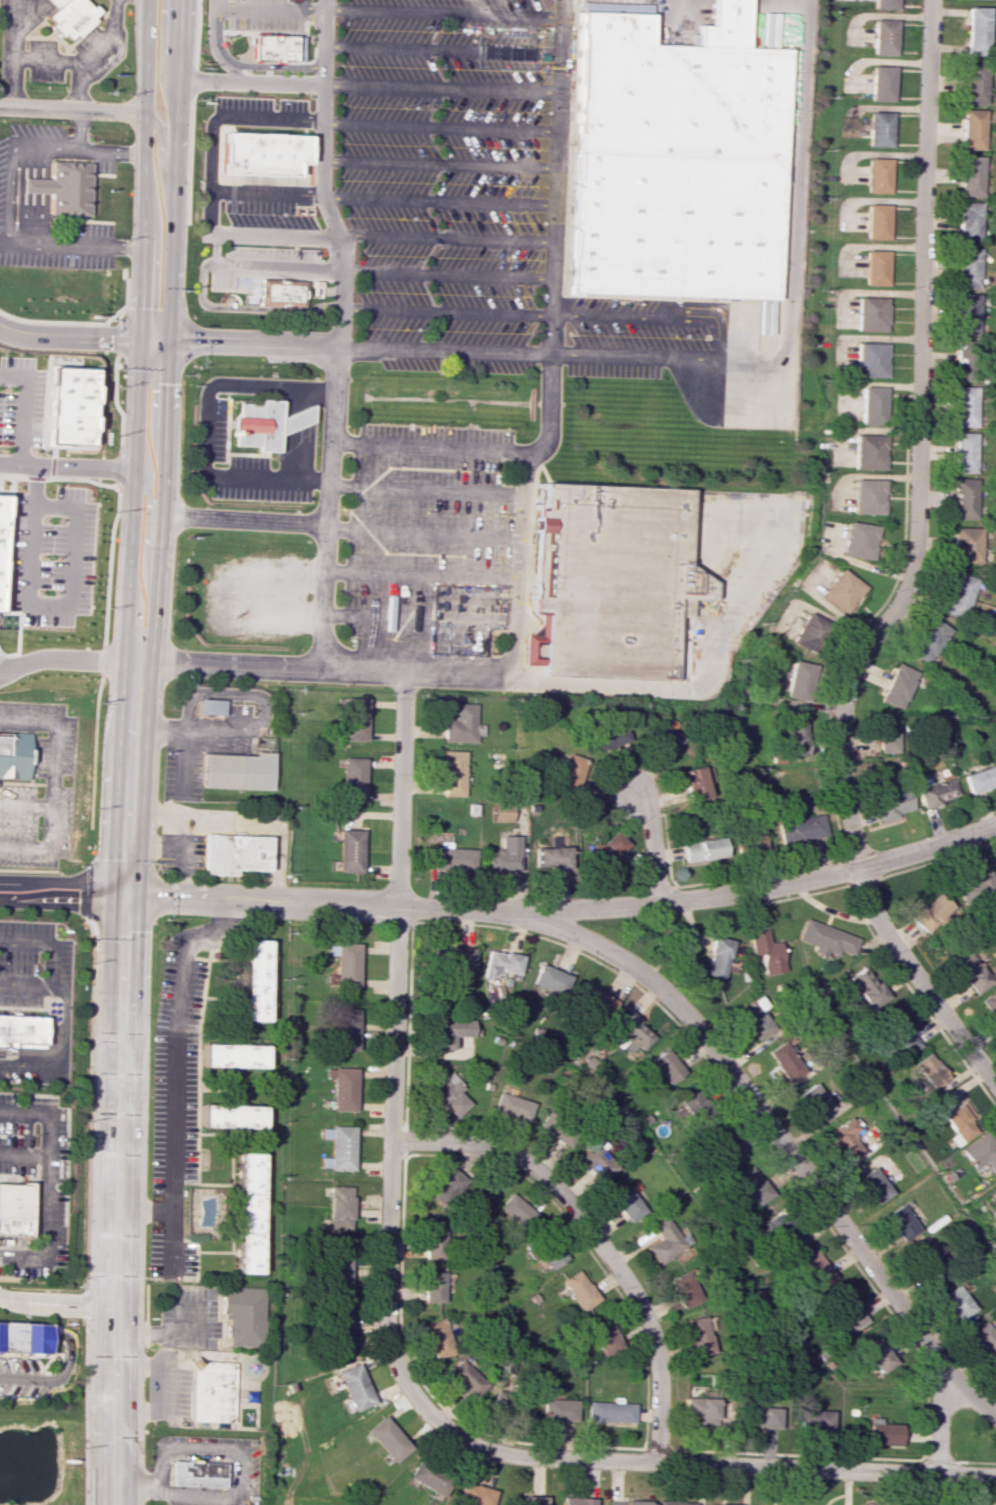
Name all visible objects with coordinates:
road: (234, 4)
building: (881, 4)
building: (630, 8)
road: (270, 9)
road: (441, 12)
building: (69, 16)
parking lot: (265, 17)
building: (974, 30)
road: (272, 32)
building: (880, 37)
road: (213, 47)
building: (276, 47)
road: (440, 49)
road: (248, 65)
road: (250, 81)
building: (879, 83)
building: (973, 83)
road: (439, 89)
parking lot: (241, 102)
street lamp: (274, 103)
parking lot: (291, 103)
road: (73, 108)
road: (190, 111)
street lamp: (201, 120)
road: (439, 125)
parking lot: (34, 129)
building: (878, 129)
building: (972, 129)
road: (112, 150)
building: (261, 153)
parking lot: (1, 161)
road: (160, 161)
building: (675, 162)
road: (438, 163)
building: (877, 175)
building: (970, 175)
street lamp: (198, 180)
parking lot: (445, 180)
road: (208, 185)
building: (62, 187)
road: (265, 192)
road: (19, 194)
road: (27, 195)
road: (35, 195)
road: (44, 195)
road: (437, 201)
road: (7, 209)
road: (792, 210)
parking lot: (264, 214)
street lamp: (270, 214)
building: (876, 221)
building: (969, 221)
parking lot: (90, 229)
road: (445, 239)
street lamp: (271, 246)
street lamp: (323, 249)
parking lot: (55, 259)
road: (262, 266)
building: (875, 267)
building: (968, 267)
road: (446, 273)
building: (281, 292)
road: (245, 308)
road: (444, 310)
street lamp: (10, 313)
building: (872, 313)
building: (967, 313)
street lamp: (113, 319)
road: (78, 322)
road: (139, 331)
road: (168, 332)
road: (336, 333)
road: (83, 335)
road: (723, 335)
parking lot: (633, 336)
traffic signals: (139, 338)
traffic signals: (168, 339)
road: (252, 342)
road: (443, 349)
building: (871, 359)
road: (67, 365)
road: (114, 398)
parking lot: (20, 402)
building: (69, 405)
building: (872, 405)
building: (966, 406)
road: (20, 409)
building: (264, 423)
road: (208, 431)
road: (296, 433)
street lamp: (118, 434)
road: (229, 446)
road: (427, 447)
building: (869, 452)
building: (964, 452)
road: (229, 460)
road: (66, 466)
road: (59, 477)
street lamp: (54, 484)
road: (425, 490)
building: (868, 496)
building: (964, 498)
building: (1, 512)
street lamp: (115, 512)
road: (244, 517)
road: (519, 521)
road: (145, 530)
road: (423, 532)
building: (860, 540)
parking lot: (422, 541)
building: (966, 544)
parking lot: (24, 556)
street lamp: (51, 556)
building: (1, 563)
road: (912, 574)
road: (421, 577)
building: (607, 579)
road: (5, 585)
building: (842, 590)
building: (958, 595)
road: (53, 605)
road: (419, 619)
building: (809, 631)
building: (929, 640)
road: (66, 657)
road: (103, 657)
road: (0, 675)
street lamp: (27, 675)
building: (799, 680)
building: (897, 685)
road: (688, 688)
building: (208, 709)
building: (354, 718)
building: (462, 725)
street lamp: (41, 734)
building: (611, 735)
building: (665, 737)
building: (886, 737)
building: (795, 738)
building: (14, 754)
building: (236, 770)
building: (571, 772)
building: (453, 773)
building: (353, 779)
building: (981, 779)
parking lot: (53, 782)
road: (55, 783)
building: (694, 783)
building: (937, 792)
building: (892, 804)
road: (27, 805)
building: (501, 812)
street lamp: (40, 827)
building: (802, 828)
building: (750, 840)
road: (651, 845)
building: (608, 846)
building: (702, 849)
building: (350, 850)
building: (234, 854)
building: (504, 855)
building: (553, 857)
building: (452, 858)
road: (30, 870)
building: (977, 886)
road: (63, 893)
traffic signals: (127, 895)
road: (566, 909)
building: (930, 912)
street lamp: (12, 918)
building: (826, 938)
road: (47, 944)
building: (765, 951)
building: (717, 956)
building: (456, 958)
building: (345, 962)
parking lot: (33, 963)
street lamp: (42, 964)
building: (501, 964)
building: (972, 971)
building: (549, 978)
building: (255, 980)
building: (867, 987)
building: (596, 998)
building: (990, 1003)
building: (753, 1019)
road: (66, 1026)
building: (22, 1029)
building: (346, 1029)
street lamp: (72, 1031)
building: (450, 1032)
building: (898, 1032)
building: (632, 1033)
road: (38, 1053)
building: (233, 1055)
building: (784, 1061)
building: (665, 1066)
road: (174, 1069)
building: (930, 1070)
parking lot: (35, 1077)
road: (121, 1082)
street lamp: (37, 1087)
building: (342, 1088)
building: (451, 1095)
building: (813, 1101)
building: (693, 1105)
building: (512, 1106)
building: (231, 1116)
building: (959, 1122)
road: (776, 1136)
building: (842, 1139)
building: (723, 1146)
building: (338, 1147)
building: (981, 1152)
road: (23, 1154)
building: (597, 1161)
road: (45, 1183)
building: (750, 1185)
building: (873, 1185)
building: (446, 1186)
building: (626, 1203)
building: (340, 1207)
building: (14, 1208)
building: (515, 1210)
building: (248, 1213)
building: (899, 1222)
building: (782, 1228)
road: (593, 1236)
building: (665, 1241)
building: (434, 1243)
building: (551, 1254)
building: (929, 1263)
building: (813, 1268)
building: (339, 1269)
street lamp: (1, 1287)
building: (433, 1287)
building: (684, 1289)
building: (579, 1290)
street lamp: (55, 1291)
road: (61, 1297)
building: (956, 1302)
road: (59, 1309)
building: (845, 1311)
building: (241, 1315)
building: (339, 1327)
road: (27, 1330)
road: (159, 1331)
building: (697, 1336)
building: (24, 1337)
building: (438, 1337)
building: (604, 1337)
road: (388, 1338)
building: (983, 1339)
street lamp: (73, 1343)
building: (875, 1355)
road: (56, 1378)
building: (465, 1378)
street lamp: (63, 1382)
building: (355, 1387)
road: (157, 1390)
building: (210, 1391)
street lamp: (3, 1399)
street lamp: (28, 1400)
building: (559, 1409)
building: (702, 1409)
building: (611, 1411)
building: (760, 1415)
building: (813, 1420)
road: (938, 1426)
building: (880, 1432)
building: (389, 1438)
road: (241, 1457)
building: (195, 1472)
building: (430, 1479)
road: (134, 1485)
building: (475, 1495)
building: (529, 1500)
building: (576, 1501)
building: (626, 1502)
building: (674, 1502)
building: (718, 1504)

